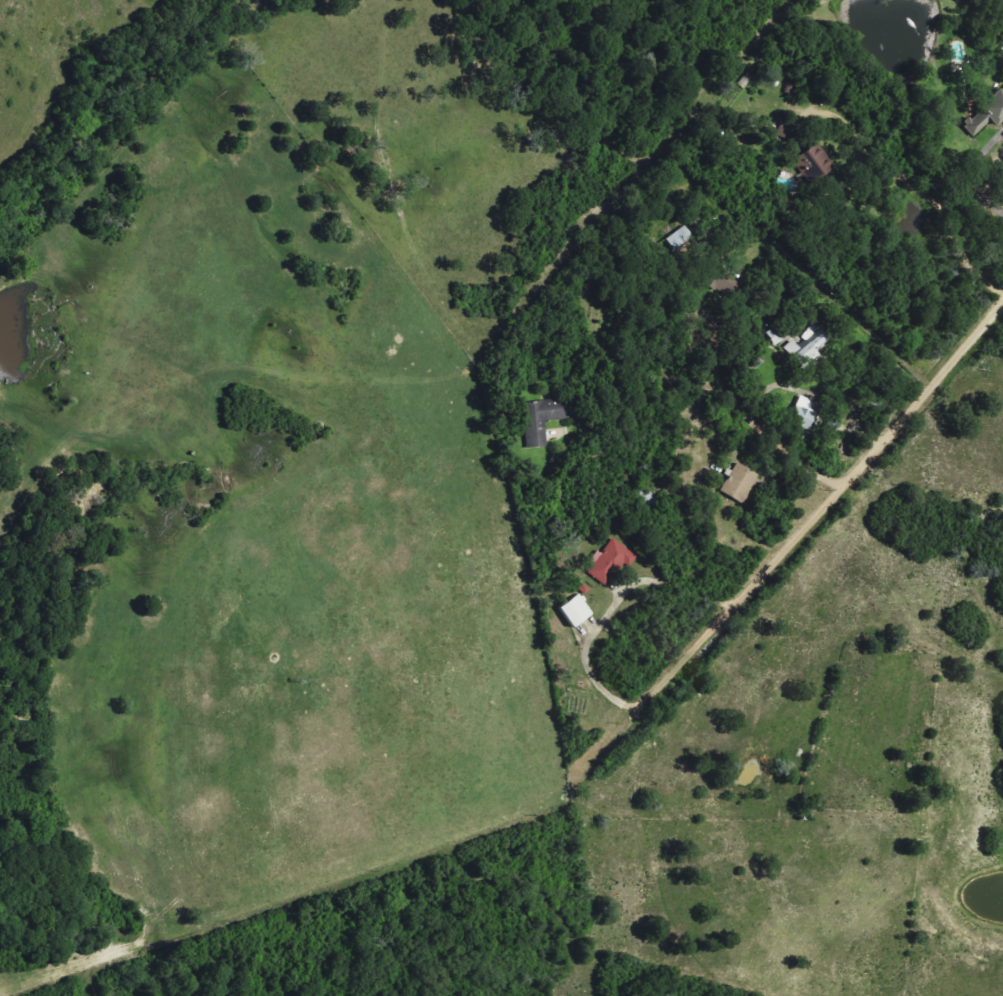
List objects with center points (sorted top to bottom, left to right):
building: (987, 116)
building: (789, 134)
building: (815, 165)
road: (969, 174)
road: (944, 219)
building: (681, 239)
building: (808, 348)
building: (806, 415)
building: (543, 421)
road: (763, 426)
road: (868, 461)
building: (741, 484)
building: (612, 563)
building: (578, 613)
road: (592, 667)

